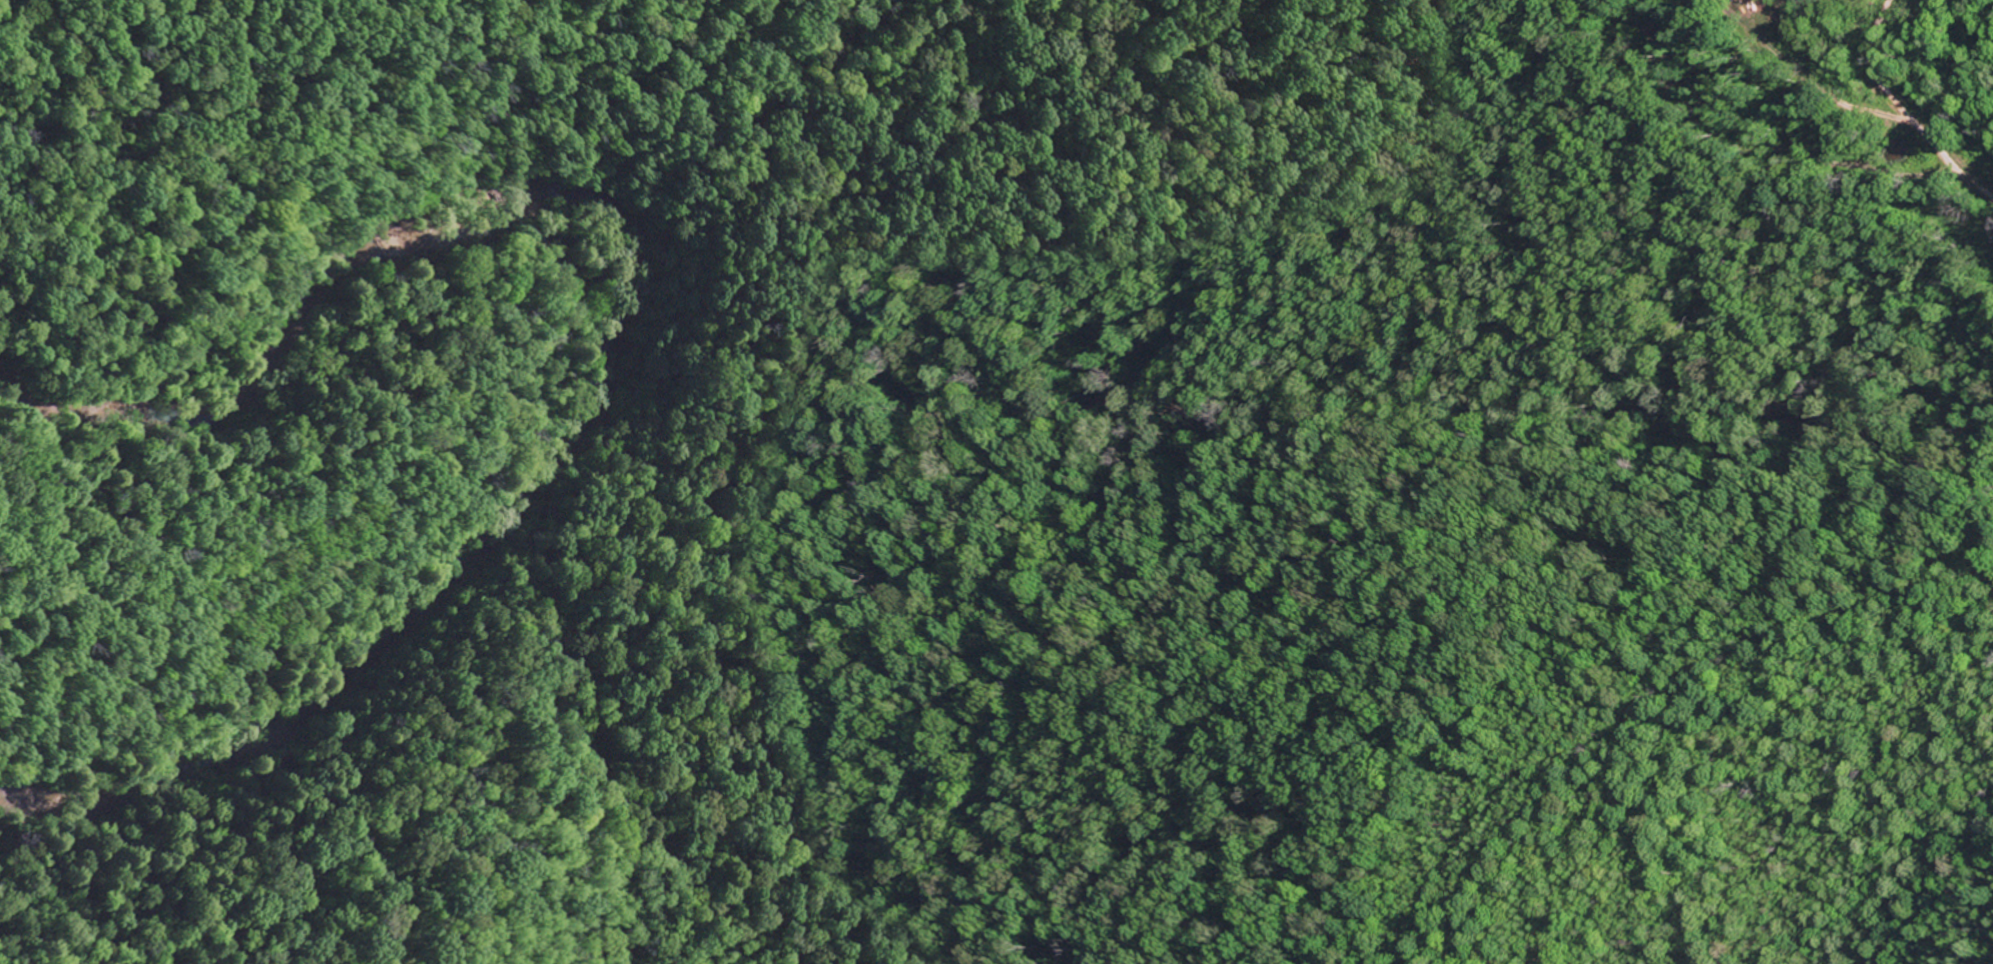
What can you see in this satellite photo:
road: (937, 488)

